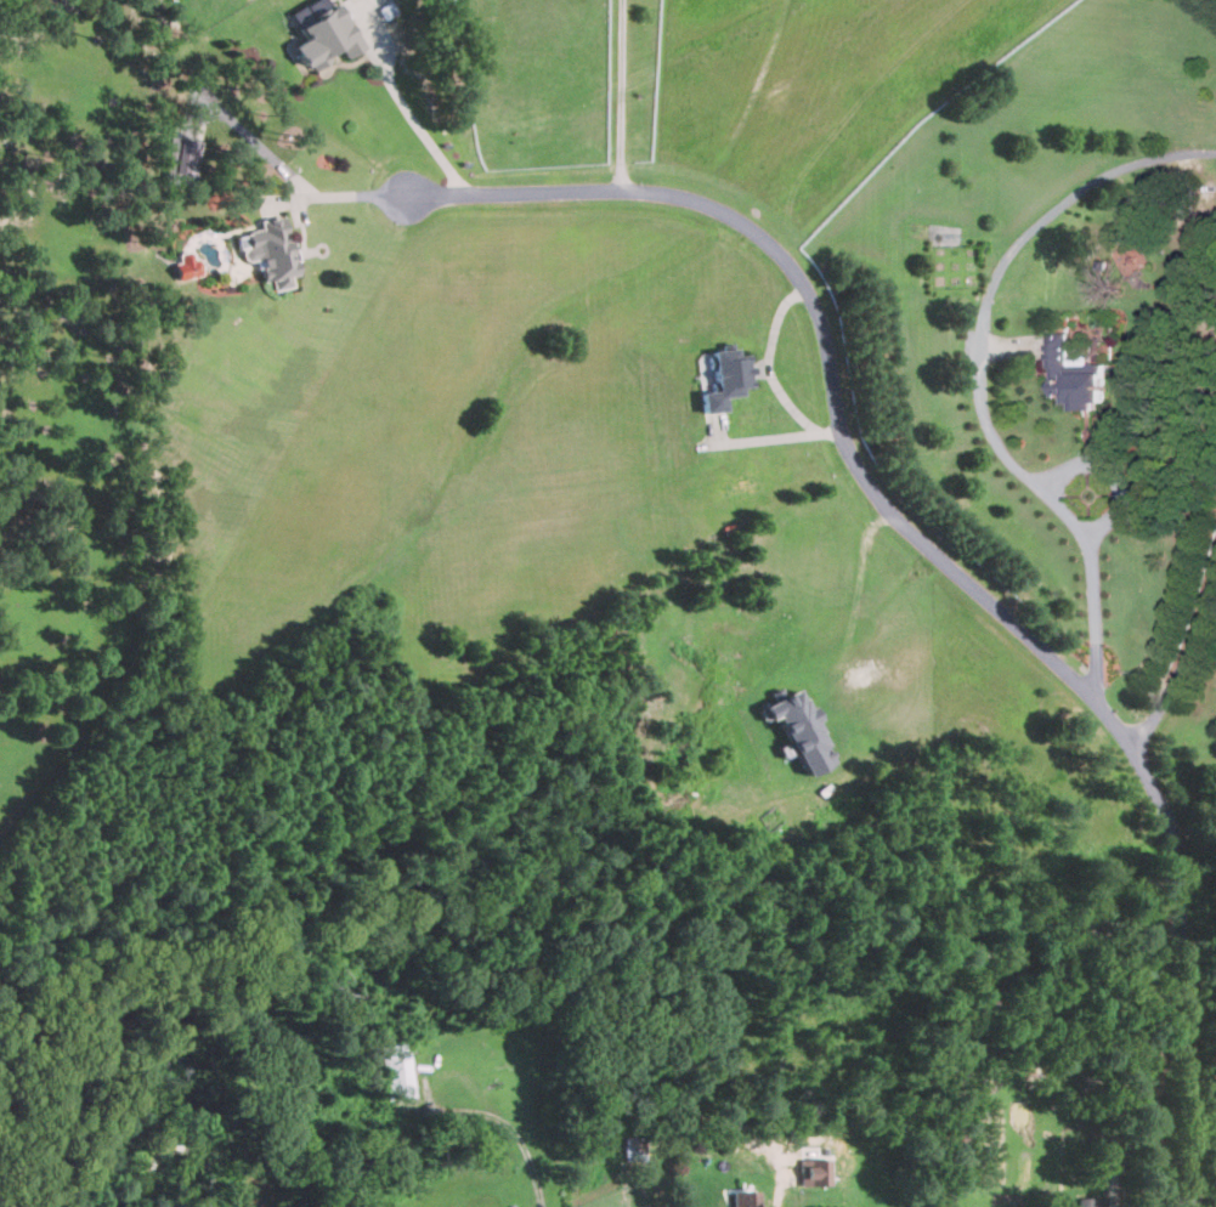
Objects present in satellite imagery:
building: (323, 38)
road: (621, 95)
road: (412, 117)
road: (258, 142)
building: (181, 160)
road: (345, 194)
building: (270, 251)
road: (986, 295)
road: (769, 361)
building: (1076, 375)
building: (725, 378)
road: (774, 437)
road: (1110, 471)
road: (935, 561)
road: (860, 593)
road: (1095, 618)
road: (1178, 662)
building: (801, 731)
building: (818, 1169)
building: (745, 1197)
building: (1092, 1201)

